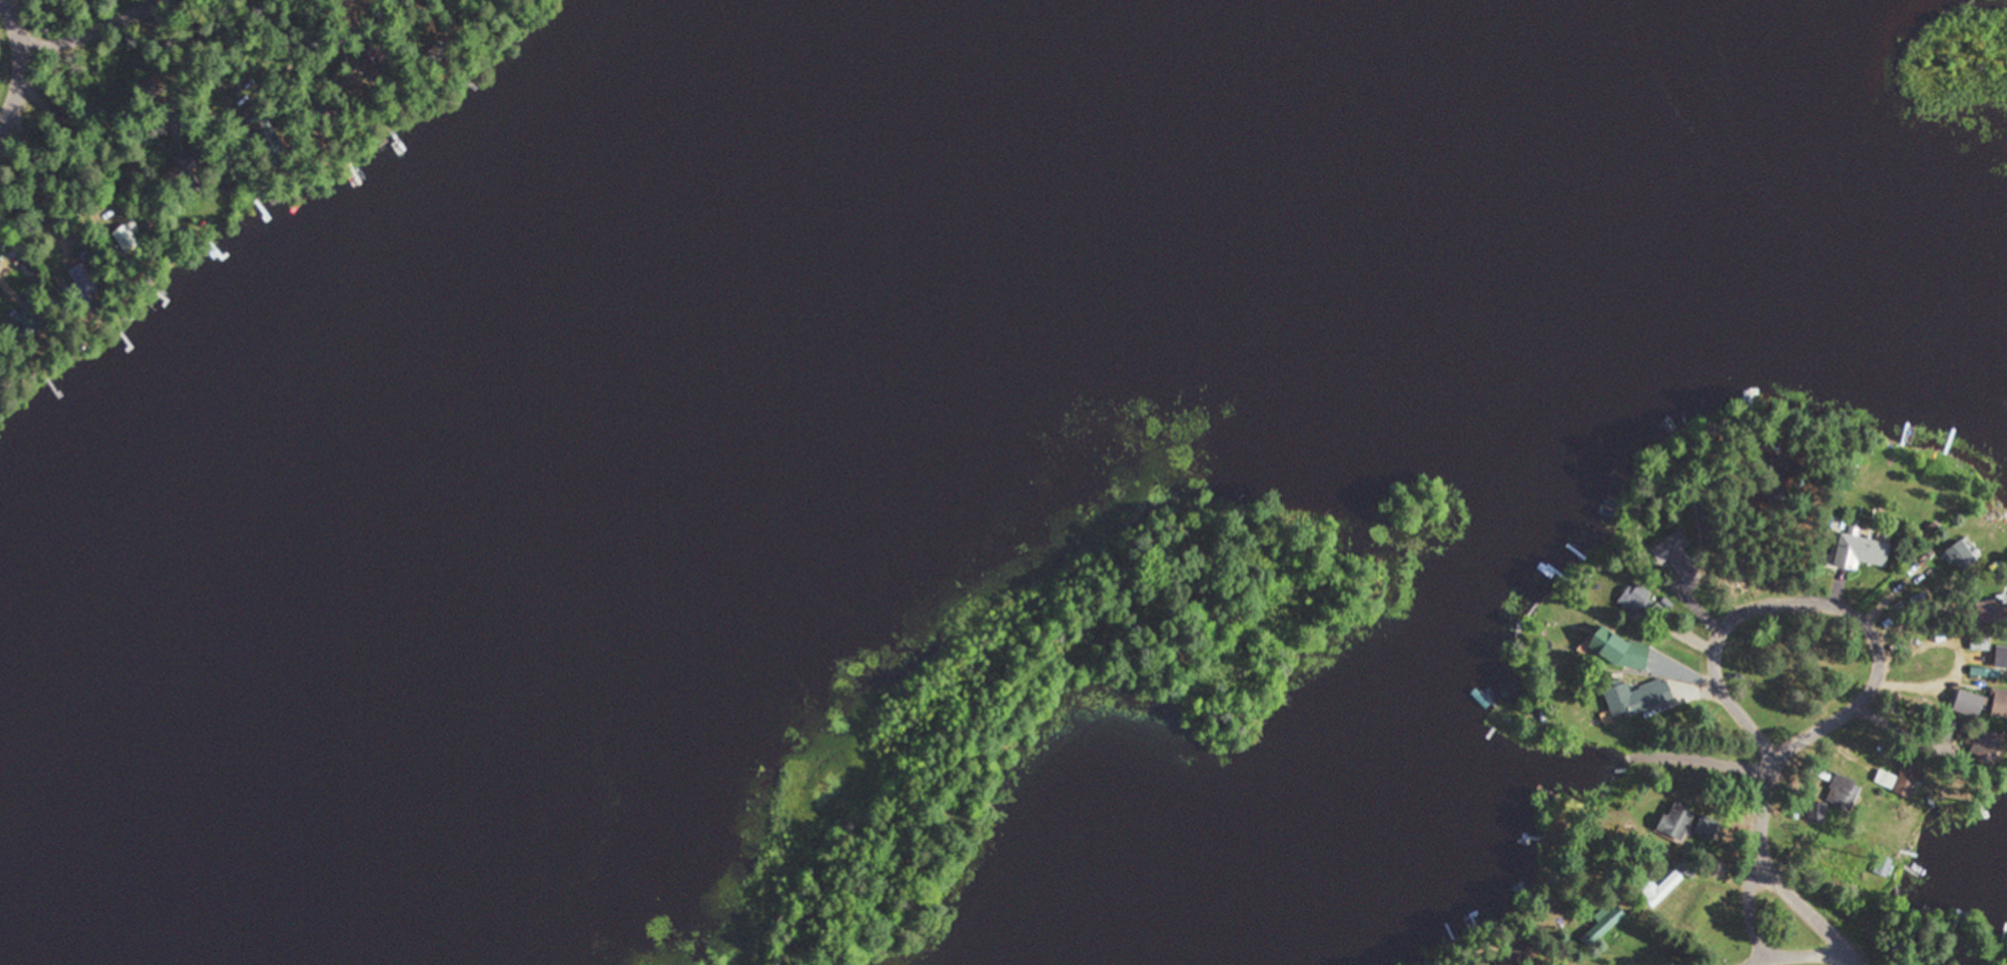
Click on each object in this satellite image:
road: (85, 32)
road: (16, 53)
building: (191, 169)
building: (122, 235)
building: (15, 257)
building: (80, 279)
building: (1216, 319)
building: (26, 321)
river: (525, 464)
building: (1781, 466)
building: (1860, 550)
building: (1963, 555)
building: (1676, 558)
road: (1779, 601)
building: (1638, 602)
building: (1991, 611)
building: (1621, 650)
building: (1637, 698)
building: (1983, 704)
building: (1986, 743)
building: (1909, 777)
building: (1841, 791)
building: (1817, 812)
building: (1677, 821)
building: (1706, 827)
road: (1767, 848)
building: (1666, 883)
road: (1812, 906)
building: (1601, 931)
road: (1804, 950)
building: (1523, 953)

